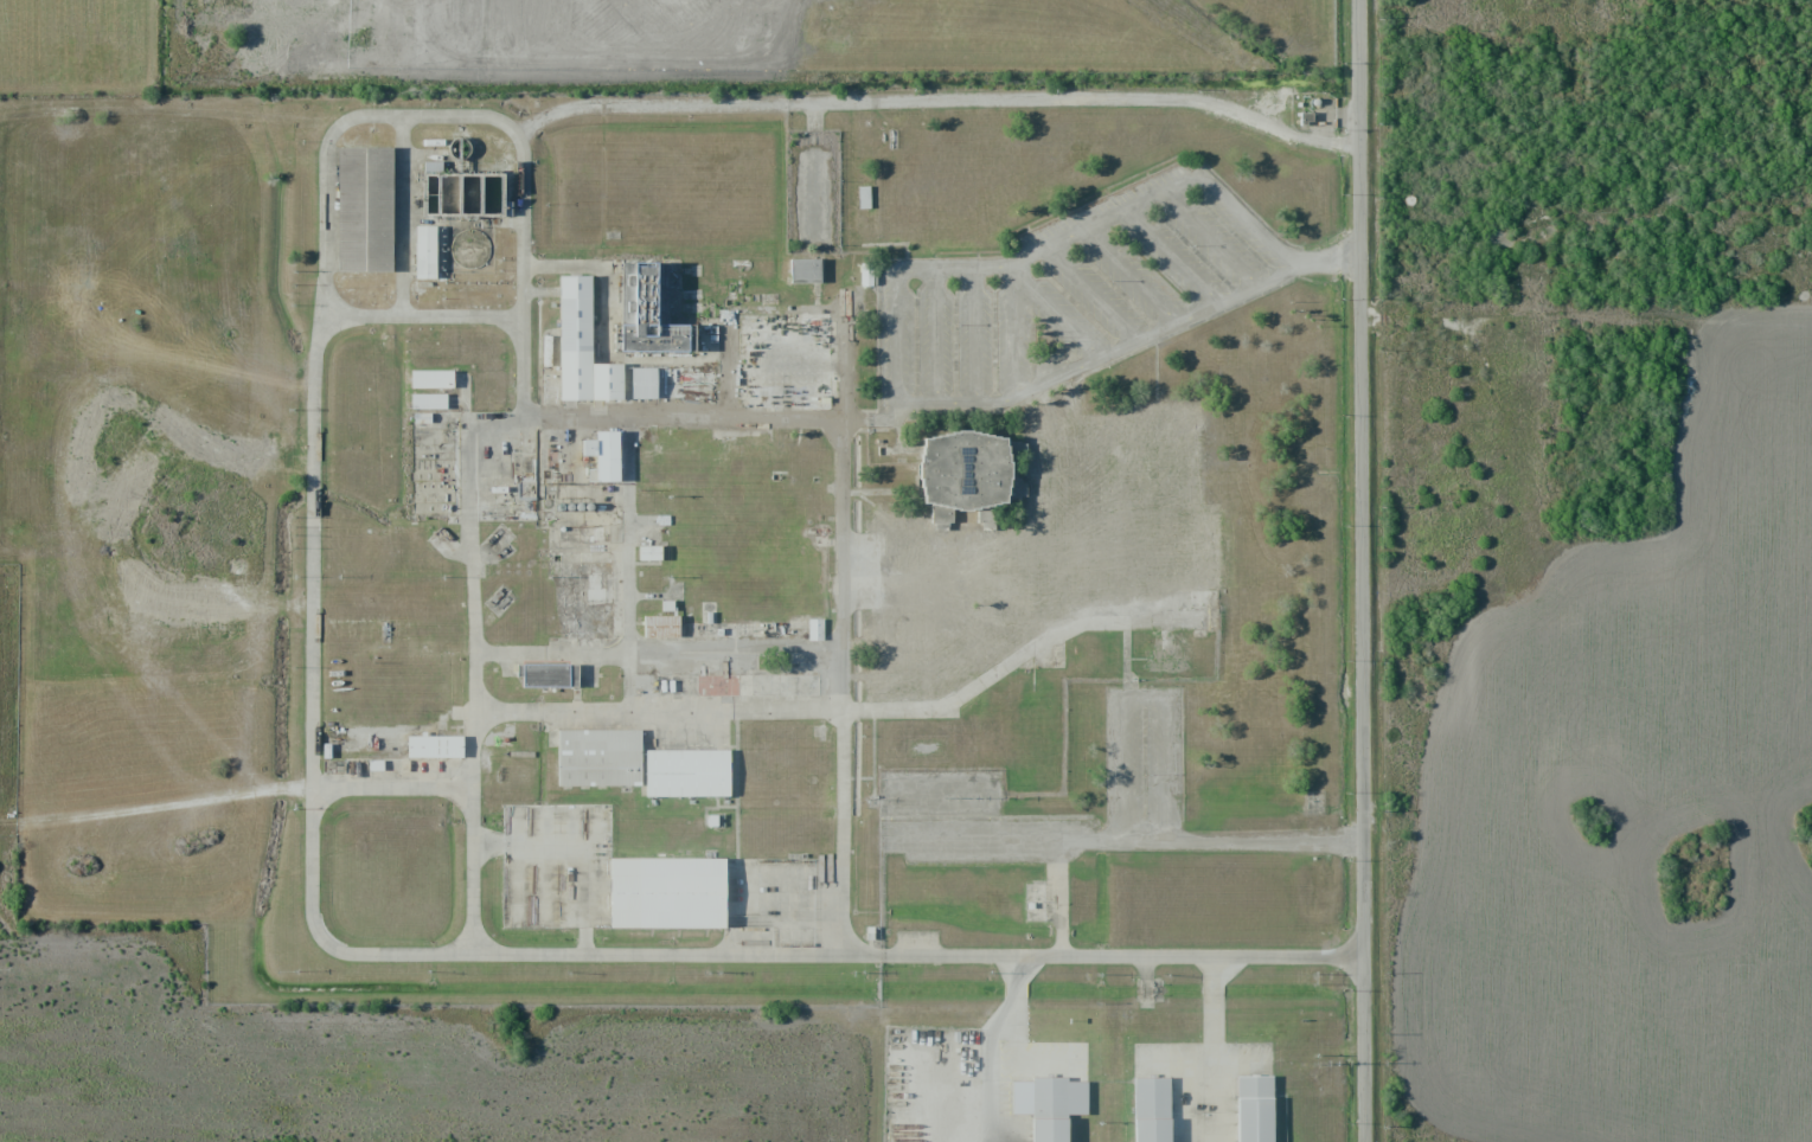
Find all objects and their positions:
building: (364, 210)
building: (431, 257)
building: (805, 271)
building: (652, 314)
building: (580, 341)
building: (789, 366)
building: (431, 379)
building: (642, 383)
building: (428, 402)
building: (603, 455)
road: (462, 481)
building: (1061, 509)
building: (648, 553)
road: (1363, 570)
building: (660, 627)
building: (814, 629)
building: (920, 669)
building: (548, 675)
road: (313, 738)
building: (435, 746)
building: (604, 761)
building: (693, 776)
crop: (1639, 802)
road: (840, 893)
building: (674, 896)
building: (1254, 1109)
building: (1055, 1131)
building: (1160, 1134)

